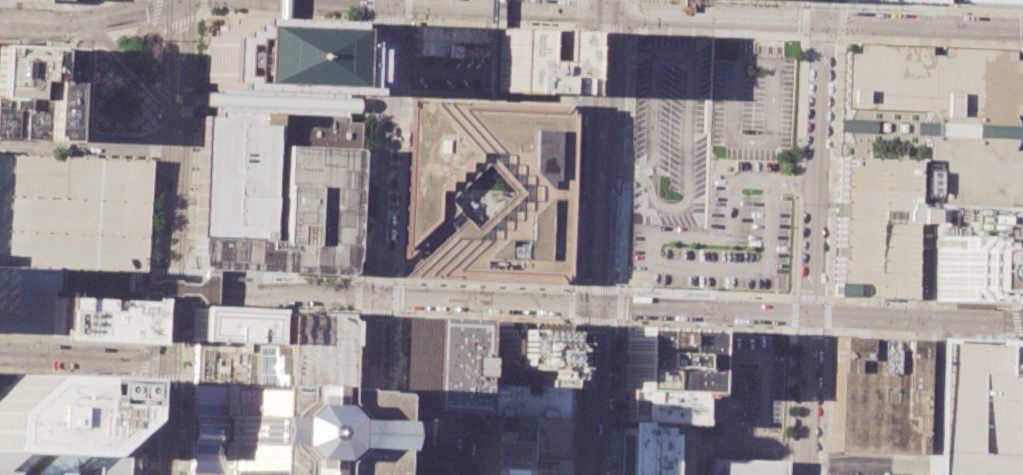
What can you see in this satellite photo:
street lamp: (118, 0)
road: (281, 0)
building: (912, 0)
road: (16, 1)
road: (88, 1)
road: (765, 1)
street lamp: (836, 1)
road: (322, 2)
road: (390, 2)
road: (804, 3)
road: (49, 4)
road: (53, 4)
road: (201, 4)
traffic signals: (390, 4)
street lamp: (754, 4)
building: (985, 4)
road: (842, 5)
road: (883, 5)
road: (606, 6)
road: (820, 6)
street lamp: (3, 7)
road: (408, 7)
road: (929, 7)
street lamp: (36, 8)
road: (254, 8)
road: (497, 8)
road: (126, 9)
road: (282, 9)
road: (368, 9)
street lamp: (73, 10)
road: (155, 10)
road: (942, 10)
street lamp: (205, 11)
traffic signals: (606, 12)
road: (935, 12)
road: (199, 13)
street lamp: (959, 13)
street lamp: (313, 14)
road: (202, 15)
road: (221, 15)
road: (218, 17)
street lamp: (361, 17)
road: (385, 18)
road: (408, 18)
street lamp: (410, 18)
road: (477, 18)
street lamp: (197, 19)
road: (804, 19)
road: (405, 20)
road: (814, 20)
traffic signals: (822, 21)
road: (177, 22)
road: (840, 22)
road: (42, 23)
street lamp: (524, 23)
road: (152, 24)
street lamp: (369, 24)
road: (492, 24)
road: (581, 25)
road: (216, 26)
road: (631, 26)
street lamp: (640, 26)
road: (632, 29)
road: (159, 30)
road: (354, 33)
road: (360, 33)
street lamp: (583, 34)
street lamp: (798, 34)
street lamp: (628, 35)
road: (820, 36)
street lamp: (845, 36)
fountain: (148, 37)
street lamp: (76, 38)
road: (740, 39)
road: (749, 39)
road: (757, 39)
street lamp: (806, 39)
street lamp: (35, 40)
street lamp: (162, 40)
building: (447, 40)
road: (39, 41)
road: (928, 41)
road: (77, 43)
street lamp: (855, 43)
road: (780, 44)
road: (142, 46)
street lamp: (926, 46)
road: (488, 47)
road: (577, 47)
street lamp: (941, 47)
road: (962, 47)
street lamp: (582, 49)
road: (489, 50)
street lamp: (1011, 50)
street lamp: (96, 51)
street lamp: (834, 51)
street lamp: (627, 52)
street lamp: (423, 55)
street lamp: (447, 56)
street lamp: (471, 57)
road: (198, 58)
building: (532, 60)
road: (755, 61)
street lamp: (108, 65)
road: (131, 66)
street lamp: (582, 69)
street lamp: (753, 69)
street lamp: (194, 70)
street lamp: (833, 70)
road: (629, 71)
building: (20, 72)
road: (111, 72)
road: (433, 72)
parking lot: (446, 72)
street lamp: (626, 72)
road: (178, 73)
street lamp: (95, 76)
building: (285, 77)
street lamp: (121, 79)
street lamp: (401, 85)
street lamp: (833, 88)
street lamp: (107, 91)
street lamp: (133, 92)
building: (50, 93)
street lamp: (625, 94)
road: (495, 96)
road: (199, 98)
road: (397, 102)
street lamp: (94, 104)
road: (360, 104)
parking lot: (751, 105)
street lamp: (146, 106)
street lamp: (832, 107)
road: (397, 112)
street lamp: (580, 113)
street lamp: (106, 117)
street lamp: (624, 117)
building: (19, 118)
street lamp: (132, 118)
building: (936, 118)
street lamp: (159, 121)
road: (199, 122)
road: (81, 123)
street lamp: (579, 123)
street lamp: (624, 124)
street lamp: (95, 127)
street lamp: (399, 128)
street lamp: (143, 130)
parking lot: (672, 130)
street lamp: (118, 132)
street lamp: (750, 132)
street lamp: (623, 137)
road: (86, 138)
road: (748, 140)
road: (361, 142)
street lamp: (830, 142)
road: (34, 143)
road: (359, 145)
street lamp: (399, 147)
street lamp: (364, 149)
road: (402, 150)
road: (361, 151)
road: (781, 153)
street lamp: (578, 155)
road: (621, 155)
road: (571, 157)
road: (602, 158)
road: (370, 159)
street lamp: (623, 160)
road: (798, 164)
road: (826, 164)
road: (162, 166)
road: (627, 166)
road: (832, 166)
street lamp: (398, 167)
road: (828, 169)
road: (161, 175)
building: (234, 175)
parking lot: (234, 175)
street lamp: (577, 175)
road: (627, 175)
street lamp: (363, 178)
street lamp: (829, 178)
road: (792, 180)
park: (485, 181)
street lamp: (191, 184)
street lamp: (621, 184)
road: (769, 186)
street lamp: (397, 187)
road: (792, 187)
street lamp: (1022, 187)
building: (538, 190)
street lamp: (748, 191)
road: (825, 192)
street lamp: (362, 196)
road: (509, 196)
road: (571, 197)
road: (185, 200)
street lamp: (799, 201)
street lamp: (576, 202)
road: (825, 203)
road: (683, 204)
road: (1019, 204)
street lamp: (1022, 206)
street lamp: (396, 207)
fountain: (463, 210)
building: (73, 211)
parking lot: (73, 211)
street lamp: (154, 212)
road: (824, 212)
road: (184, 213)
street lamp: (576, 214)
road: (172, 215)
street lamp: (361, 215)
road: (359, 216)
building: (297, 217)
building: (974, 221)
road: (825, 222)
street lamp: (154, 225)
street lamp: (395, 226)
road: (184, 227)
building: (873, 227)
parking garage: (873, 227)
street lamp: (827, 230)
street lamp: (575, 234)
parking lot: (723, 234)
street lamp: (361, 235)
street lamp: (1021, 236)
railway: (167, 237)
railway: (181, 237)
road: (813, 237)
road: (379, 239)
street lamp: (153, 240)
road: (427, 244)
street lamp: (394, 247)
street lamp: (660, 252)
street lamp: (574, 254)
street lamp: (360, 255)
road: (149, 256)
street lamp: (755, 256)
street lamp: (826, 257)
street lamp: (152, 258)
street lamp: (1020, 259)
street lamp: (189, 266)
street lamp: (393, 266)
building: (972, 269)
road: (169, 270)
road: (188, 270)
road: (151, 272)
road: (190, 274)
road: (273, 275)
street lamp: (394, 275)
street lamp: (572, 276)
street lamp: (272, 278)
road: (209, 279)
street lamp: (315, 280)
road: (378, 280)
road: (395, 280)
street lamp: (352, 281)
road: (359, 281)
road: (397, 282)
street lamp: (1019, 282)
traffic signals: (170, 283)
street lamp: (400, 283)
road: (482, 283)
street lamp: (572, 283)
street lamp: (824, 283)
street lamp: (411, 284)
street lamp: (431, 285)
street lamp: (618, 285)
street lamp: (451, 286)
street lamp: (470, 286)
road: (187, 287)
street lamp: (489, 287)
street lamp: (510, 288)
road: (189, 289)
road: (272, 289)
street lamp: (530, 289)
street lamp: (549, 289)
road: (620, 289)
street lamp: (565, 290)
building: (56, 293)
parking lot: (56, 293)
road: (707, 293)
traffic signals: (376, 295)
road: (395, 296)
street lamp: (717, 297)
road: (810, 297)
road: (793, 298)
road: (796, 299)
road: (827, 299)
road: (486, 300)
road: (188, 302)
street lamp: (831, 302)
road: (921, 302)
road: (185, 304)
street lamp: (220, 304)
traffic signals: (597, 304)
street lamp: (876, 304)
road: (150, 305)
road: (168, 305)
street lamp: (248, 305)
road: (187, 306)
street lamp: (268, 306)
road: (885, 306)
road: (892, 306)
road: (1015, 307)
road: (1021, 307)
street lamp: (312, 308)
street lamp: (999, 309)
road: (360, 310)
road: (394, 312)
road: (397, 312)
road: (810, 312)
road: (494, 313)
road: (791, 313)
street lamp: (357, 315)
street lamp: (505, 315)
building: (96, 318)
road: (618, 319)
road: (168, 320)
street lamp: (626, 320)
street lamp: (570, 323)
road: (825, 323)
street lamp: (617, 325)
road: (706, 325)
building: (229, 326)
street lamp: (783, 326)
street lamp: (149, 327)
street lamp: (184, 327)
road: (1017, 327)
road: (790, 329)
road: (802, 329)
street lamp: (835, 329)
road: (826, 330)
road: (932, 331)
street lamp: (357, 333)
street lamp: (962, 333)
road: (761, 335)
road: (924, 336)
street lamp: (1010, 336)
road: (33, 337)
street lamp: (823, 340)
street lamp: (27, 341)
road: (56, 343)
road: (43, 344)
street lamp: (84, 344)
road: (709, 344)
road: (147, 345)
street lamp: (142, 347)
road: (746, 354)
road: (83, 355)
street lamp: (1019, 355)
road: (145, 359)
traffic signals: (167, 359)
building: (661, 359)
road: (920, 362)
building: (435, 365)
street lamp: (746, 366)
building: (520, 370)
road: (71, 373)
road: (143, 374)
road: (182, 376)
street lamp: (355, 376)
road: (11, 377)
road: (122, 377)
road: (165, 377)
road: (617, 378)
road: (120, 379)
street lamp: (185, 380)
street lamp: (1018, 381)
street lamp: (145, 382)
building: (130, 384)
road: (475, 387)
road: (112, 389)
road: (351, 389)
road: (593, 389)
road: (350, 391)
street lamp: (614, 392)
road: (561, 395)
building: (871, 395)
road: (619, 396)
building: (270, 400)
street lamp: (354, 401)
road: (786, 401)
road: (824, 402)
road: (387, 403)
street lamp: (791, 403)
road: (120, 406)
parking lot: (966, 407)
street lamp: (1017, 407)
street lamp: (568, 408)
building: (966, 408)
road: (1012, 408)
parking lot: (720, 414)
road: (164, 416)
road: (140, 422)
road: (423, 422)
road: (574, 424)
building: (58, 427)
parking lot: (432, 427)
building: (650, 427)
street lamp: (744, 429)
road: (120, 430)
road: (137, 431)
road: (395, 431)
road: (573, 432)
street lamp: (1015, 432)
road: (605, 435)
road: (561, 437)
road: (184, 440)
road: (735, 440)
street lamp: (385, 444)
building: (516, 446)
parking lot: (516, 446)
road: (785, 447)
street lamp: (1015, 447)
street lamp: (352, 448)
road: (817, 449)
street lamp: (818, 451)
road: (682, 457)
road: (614, 458)
street lamp: (179, 459)
park: (424, 459)
road: (1014, 462)
road: (405, 463)
parking lot: (873, 463)
road: (824, 464)
road: (874, 464)
building: (743, 466)
road: (1014, 471)
road: (823, 473)
street lamp: (611, 474)

